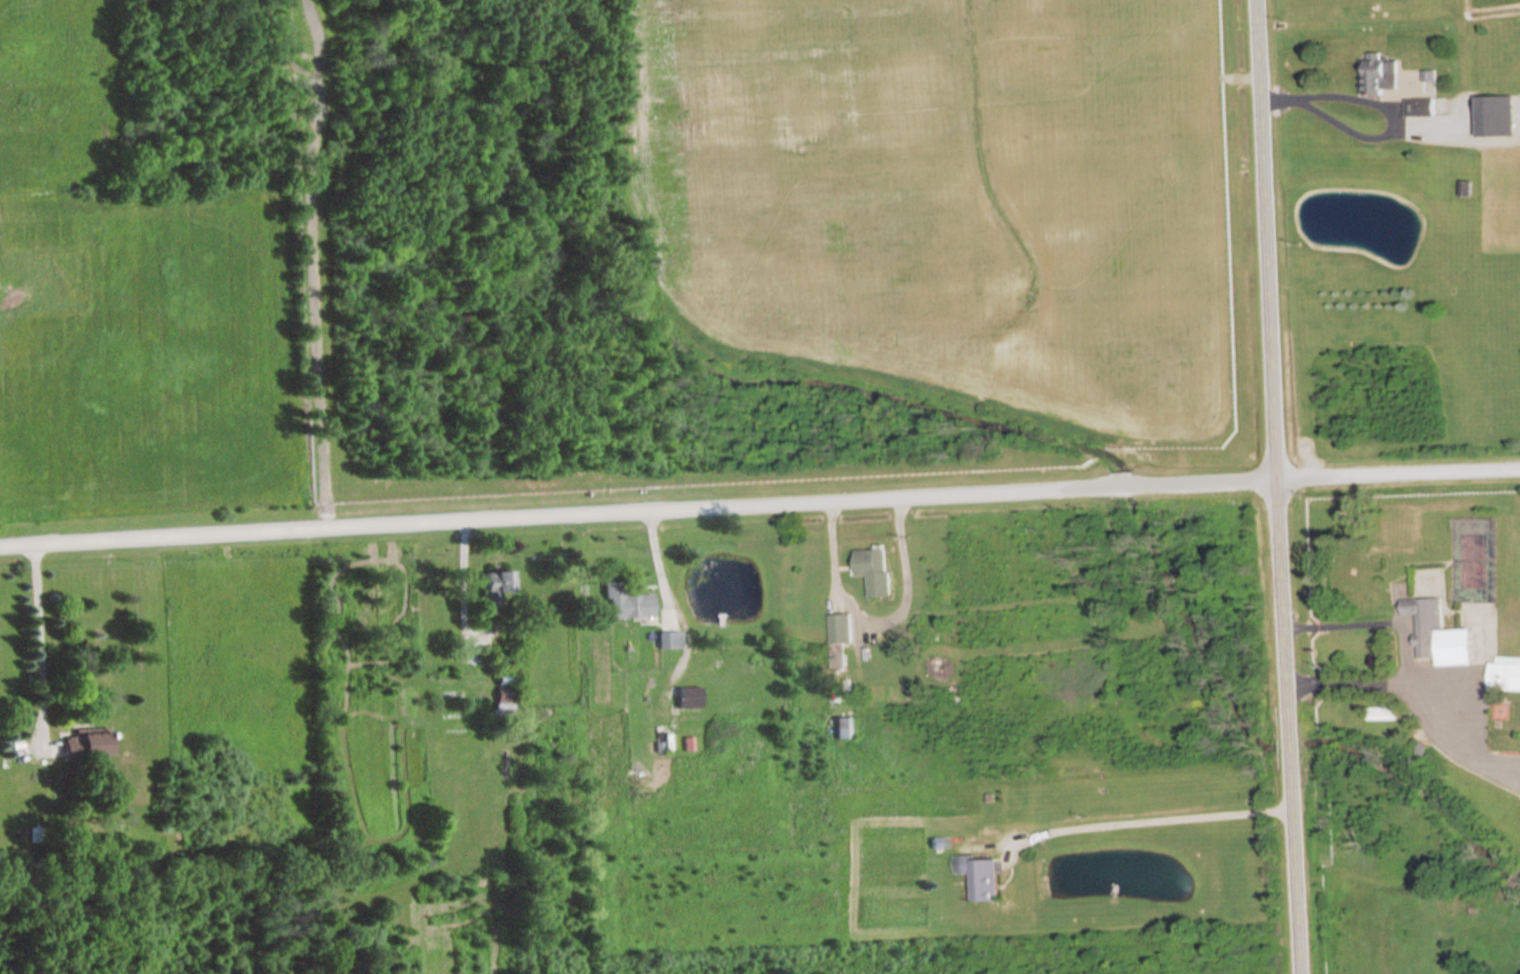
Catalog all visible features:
building: (1379, 77)
road: (1331, 93)
building: (1494, 117)
road: (1276, 486)
road: (759, 505)
building: (873, 571)
building: (494, 586)
building: (624, 604)
road: (876, 620)
building: (839, 630)
building: (1437, 635)
road: (40, 639)
building: (667, 640)
building: (1504, 675)
building: (687, 698)
road: (1413, 704)
building: (839, 728)
building: (91, 743)
road: (1149, 821)
building: (979, 875)

